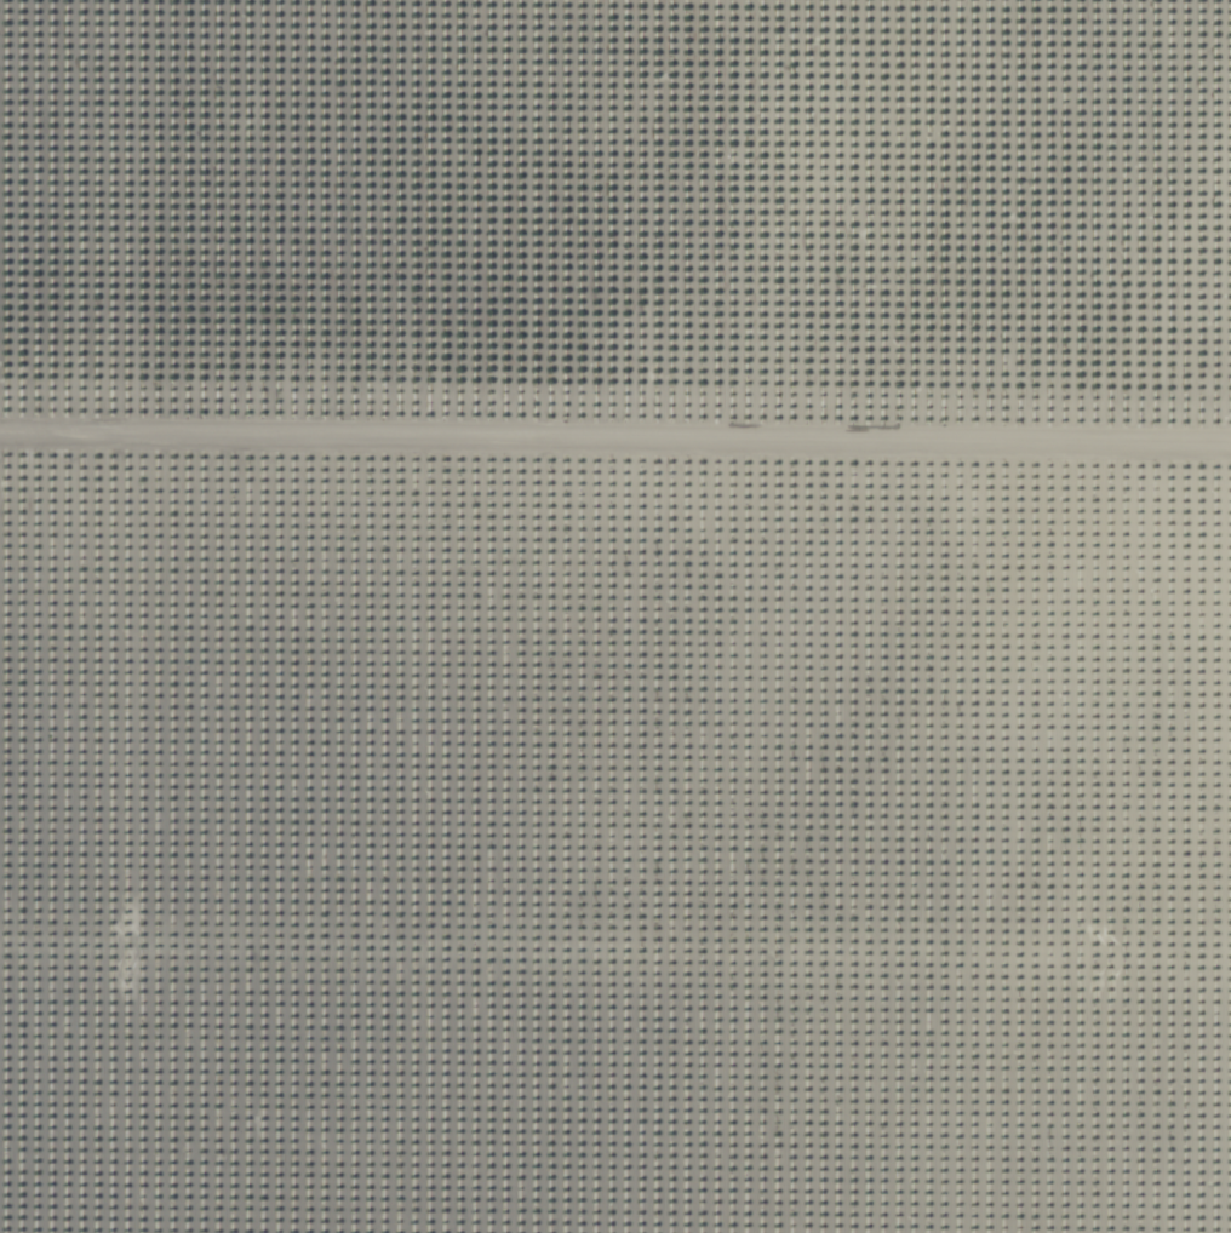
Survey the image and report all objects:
road: (615, 417)
crop: (615, 616)

